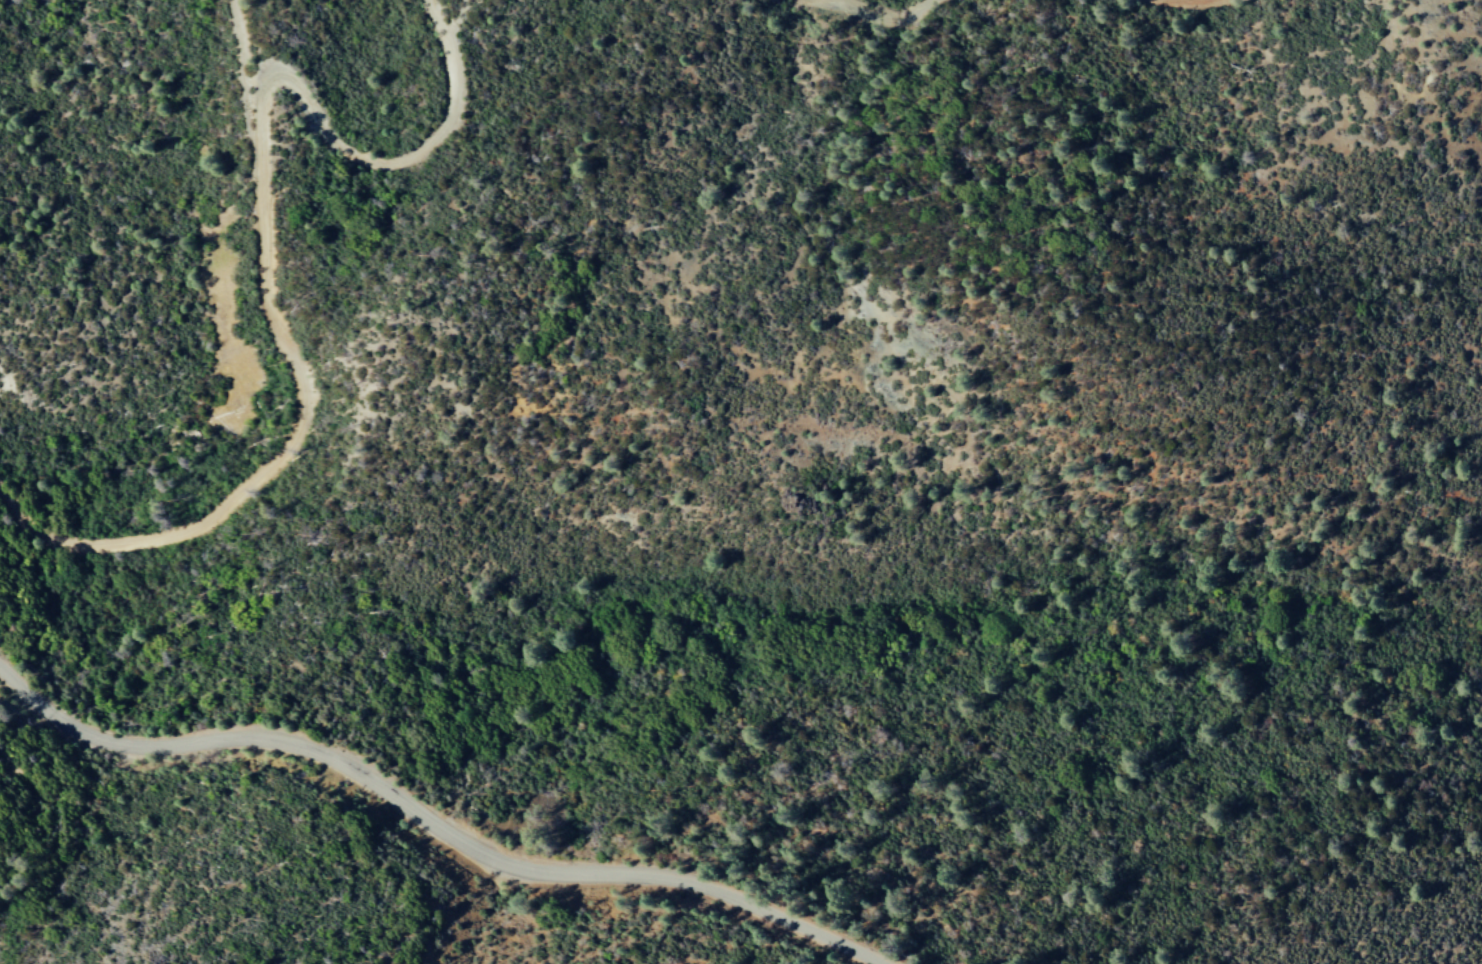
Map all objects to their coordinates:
road: (1196, 2)
road: (883, 16)
road: (264, 258)
road: (428, 824)

